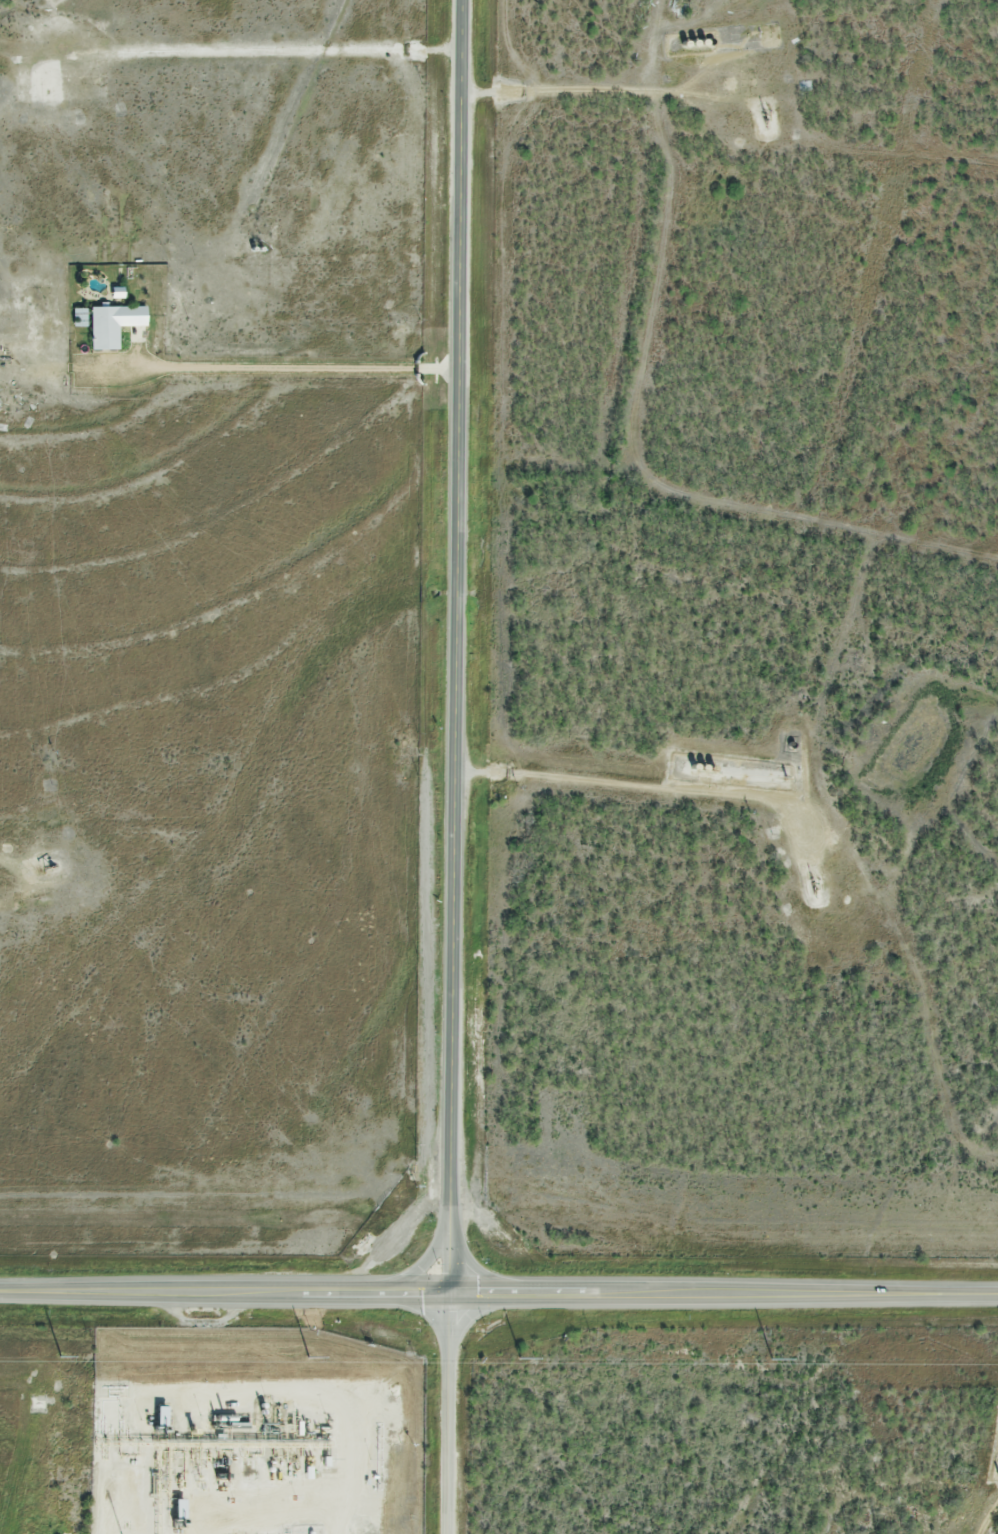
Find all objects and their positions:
building: (114, 324)
road: (265, 366)
road: (451, 644)
traffic signals: (445, 1289)
road: (499, 1289)
power tower: (310, 1354)
power tower: (60, 1355)
power tower: (520, 1356)
power tower: (772, 1358)
road: (444, 1411)

